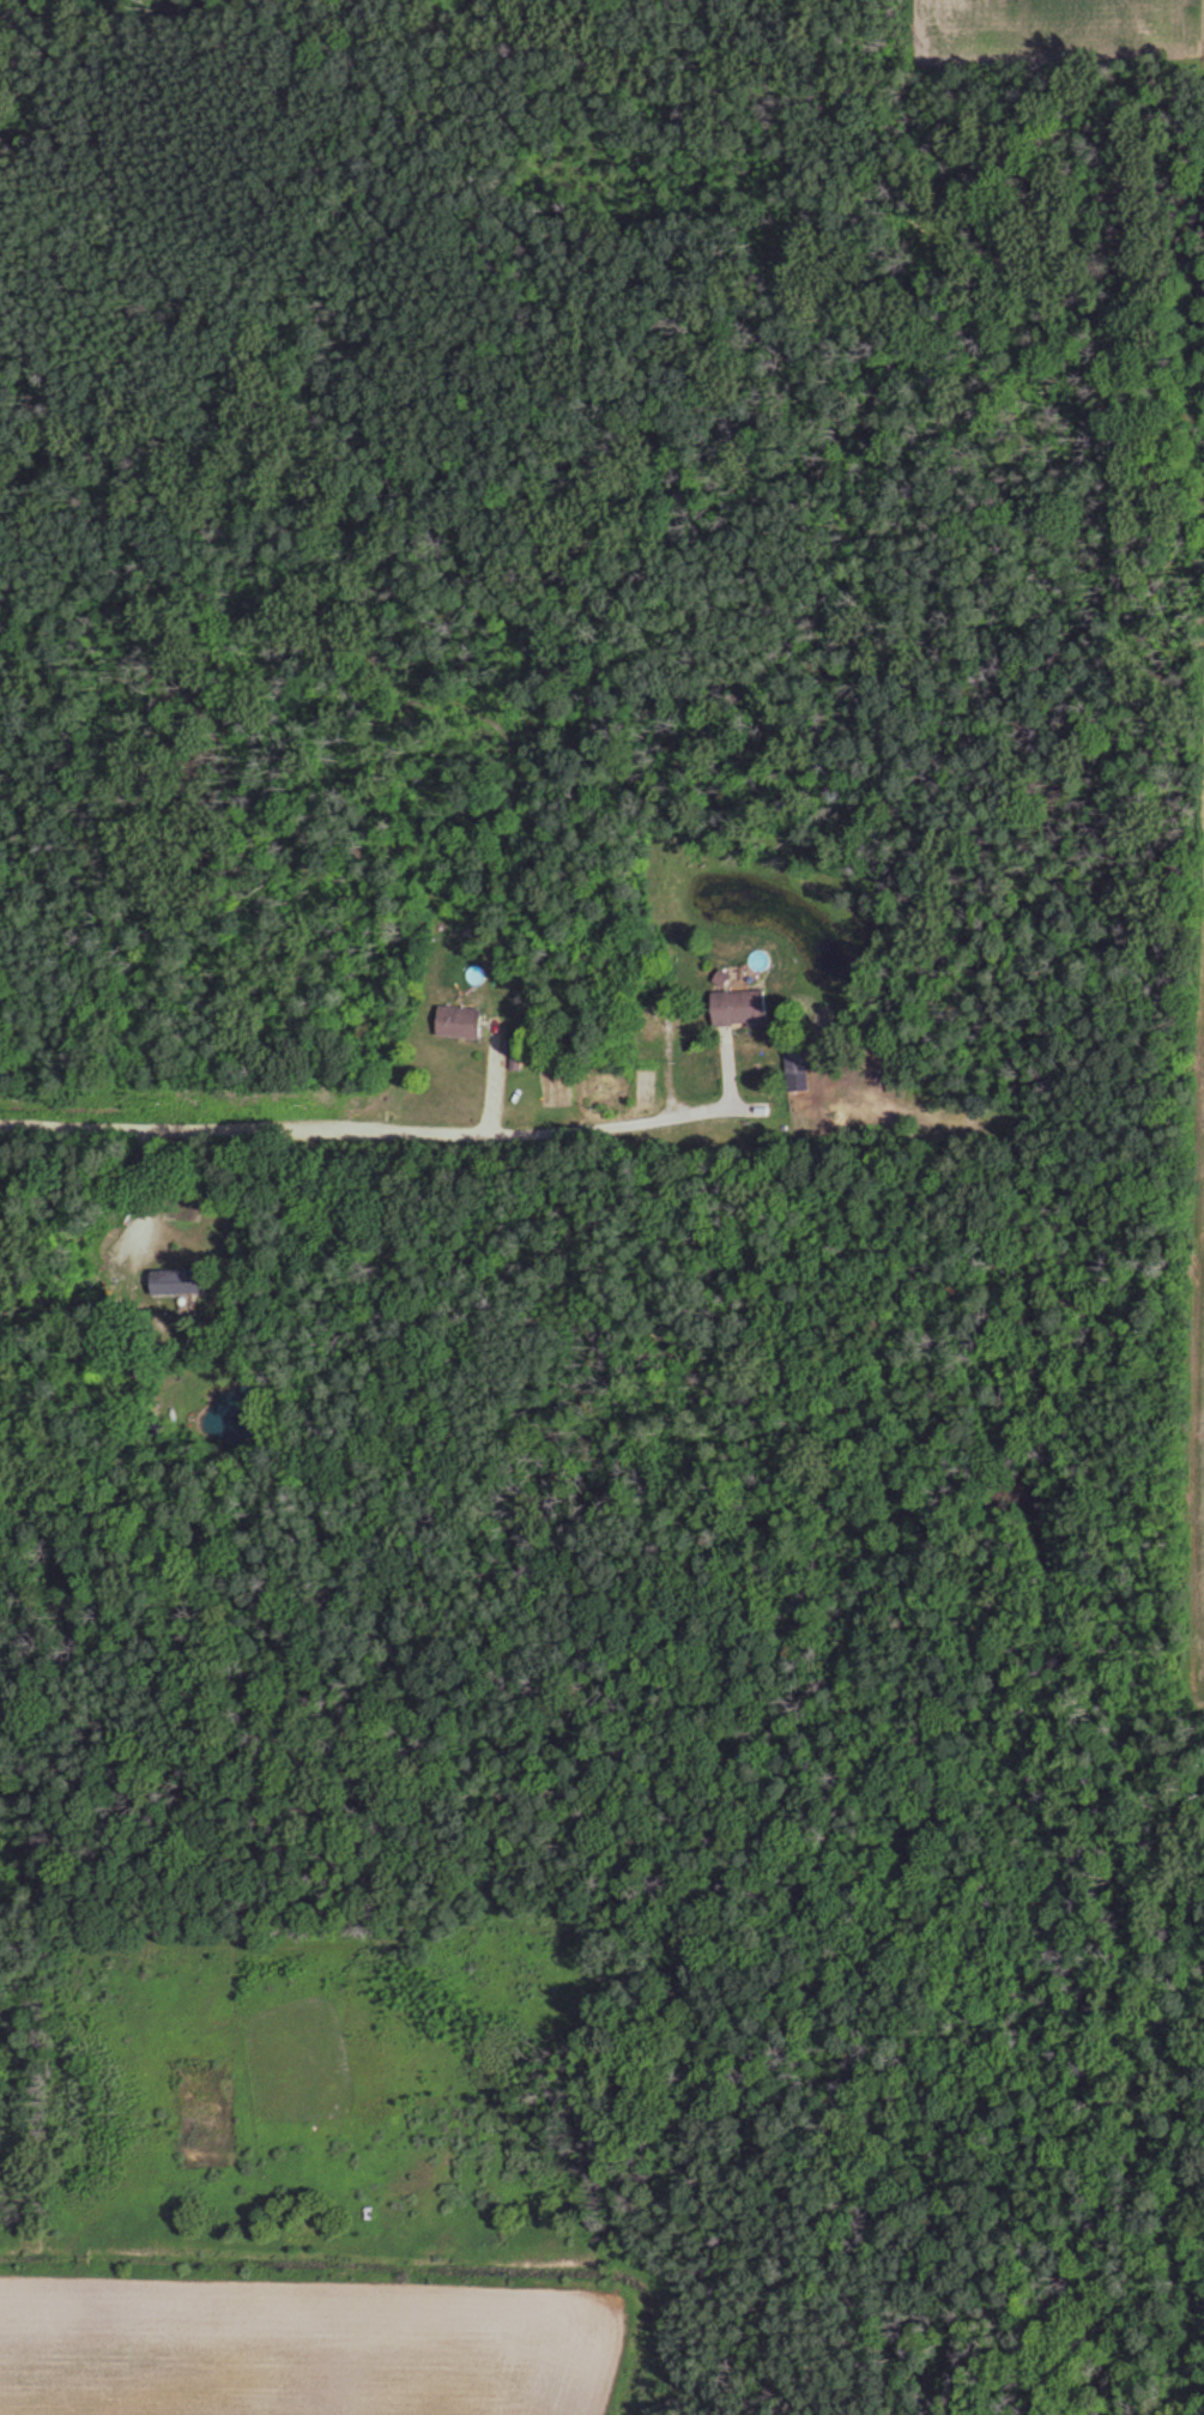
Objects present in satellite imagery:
building: (453, 1021)
road: (358, 1128)
building: (164, 1281)

